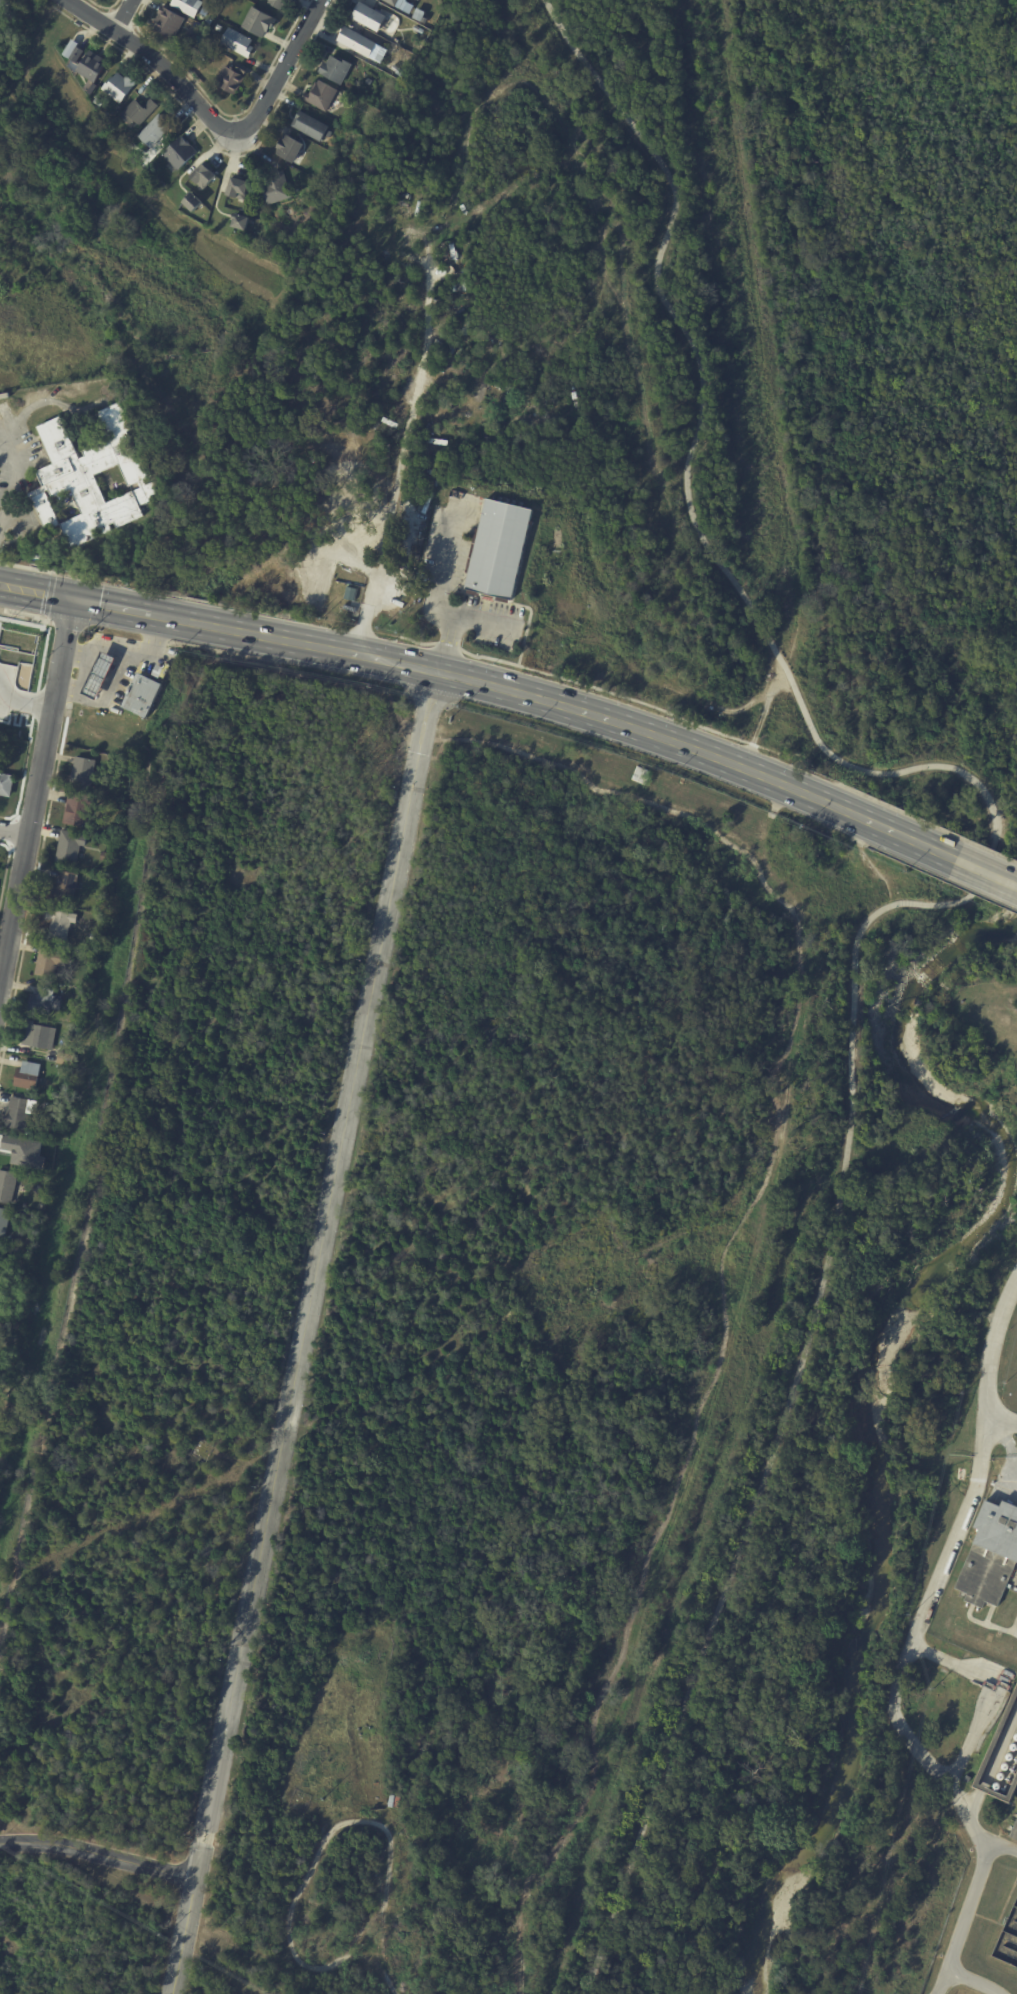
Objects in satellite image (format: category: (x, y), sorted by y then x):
building: (278, 3)
building: (399, 3)
building: (188, 6)
road: (125, 12)
building: (369, 16)
building: (5, 17)
building: (419, 17)
building: (208, 21)
building: (169, 22)
building: (259, 22)
building: (219, 28)
building: (420, 31)
building: (190, 36)
building: (238, 42)
building: (362, 44)
building: (77, 55)
road: (163, 60)
building: (199, 63)
building: (92, 66)
road: (282, 68)
building: (336, 69)
building: (397, 70)
building: (232, 78)
building: (368, 81)
building: (119, 87)
building: (321, 95)
building: (97, 101)
building: (139, 112)
building: (310, 126)
building: (155, 130)
building: (290, 148)
building: (180, 152)
building: (142, 163)
building: (204, 176)
building: (162, 185)
building: (239, 188)
building: (277, 189)
building: (193, 202)
building: (241, 222)
road: (768, 387)
road: (19, 475)
building: (92, 477)
road: (387, 516)
road: (1, 524)
building: (500, 548)
road: (439, 589)
road: (35, 590)
traffic signals: (70, 597)
road: (114, 605)
road: (157, 625)
road: (168, 645)
road: (146, 649)
road: (70, 650)
building: (102, 663)
gas station: (102, 663)
road: (120, 667)
road: (77, 668)
road: (65, 682)
road: (495, 682)
building: (141, 691)
road: (20, 694)
building: (82, 773)
building: (640, 775)
building: (6, 784)
road: (36, 786)
building: (79, 809)
road: (888, 830)
road: (14, 831)
building: (69, 847)
building: (104, 856)
road: (987, 874)
building: (65, 888)
road: (891, 898)
road: (921, 904)
building: (59, 924)
building: (52, 961)
building: (44, 1002)
wastewater plant: (994, 1030)
building: (39, 1036)
building: (65, 1059)
building: (62, 1070)
building: (28, 1075)
building: (20, 1113)
building: (7, 1186)
building: (4, 1223)
building: (0, 1247)
building: (2, 1260)
building: (10, 1276)
road: (747, 1290)
road: (300, 1327)
building: (16, 1328)
road: (993, 1360)
road: (985, 1432)
building: (988, 1553)
road: (946, 1661)
wastewater plant: (973, 1663)
road: (903, 1673)
road: (971, 1739)
building: (1002, 1756)
road: (98, 1850)
road: (964, 1918)
road: (973, 1982)

